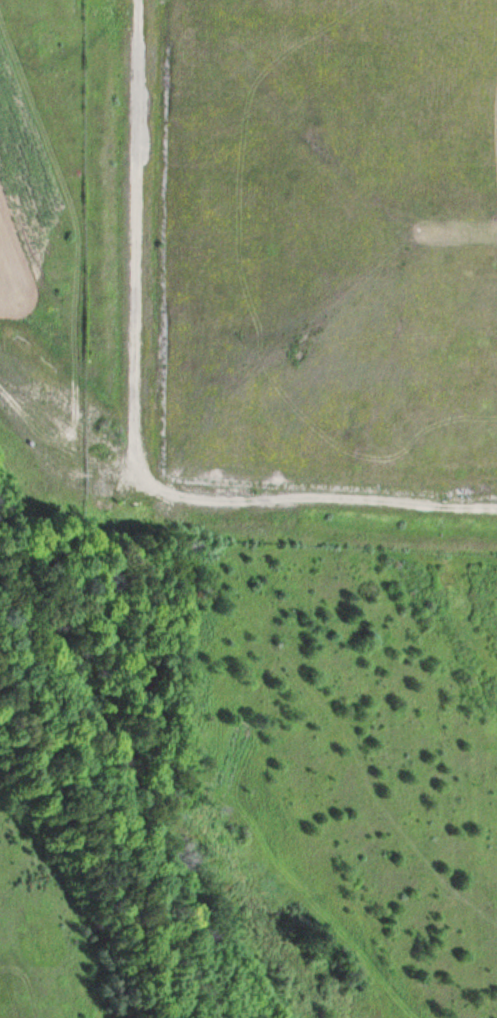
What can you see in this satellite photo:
landfill: (308, 259)

